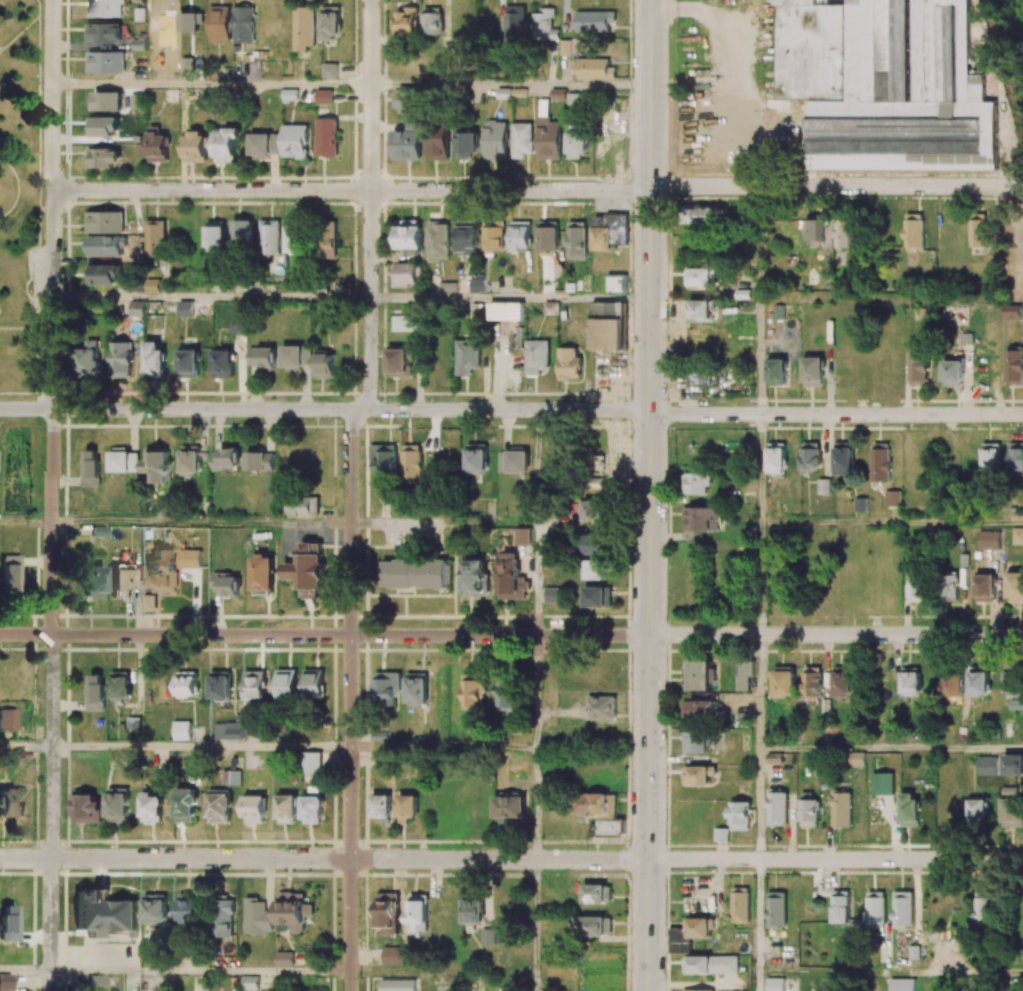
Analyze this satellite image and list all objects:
road: (39, 7)
building: (105, 8)
building: (432, 20)
building: (594, 21)
building: (407, 22)
building: (330, 23)
building: (515, 23)
building: (188, 24)
building: (220, 24)
building: (244, 24)
building: (544, 25)
building: (303, 27)
building: (103, 32)
road: (20, 33)
building: (138, 44)
building: (812, 50)
building: (105, 62)
building: (594, 69)
building: (330, 70)
road: (212, 84)
road: (511, 85)
building: (921, 90)
building: (558, 93)
building: (324, 96)
building: (407, 100)
building: (575, 100)
building: (104, 126)
building: (326, 137)
building: (495, 139)
building: (522, 139)
building: (295, 141)
building: (577, 141)
building: (438, 143)
building: (406, 144)
building: (467, 144)
building: (226, 145)
building: (264, 145)
building: (194, 146)
building: (158, 147)
building: (104, 157)
building: (826, 160)
road: (39, 176)
street lamp: (43, 179)
road: (836, 187)
road: (19, 189)
road: (352, 191)
park: (19, 192)
building: (704, 213)
building: (105, 222)
building: (813, 229)
building: (979, 229)
building: (913, 232)
building: (844, 233)
building: (242, 235)
building: (410, 235)
building: (520, 235)
building: (155, 236)
building: (215, 236)
building: (493, 236)
building: (548, 236)
building: (270, 237)
building: (294, 237)
building: (466, 237)
building: (327, 239)
building: (438, 239)
building: (576, 240)
road: (761, 243)
building: (103, 246)
building: (102, 274)
building: (405, 274)
building: (701, 277)
building: (476, 283)
building: (615, 284)
street lamp: (31, 292)
road: (211, 297)
road: (510, 298)
road: (880, 300)
building: (136, 308)
building: (185, 308)
building: (608, 309)
building: (699, 310)
building: (506, 311)
building: (1012, 312)
building: (403, 323)
building: (237, 325)
road: (14, 330)
building: (608, 333)
building: (700, 340)
building: (467, 356)
building: (536, 356)
building: (296, 357)
road: (761, 357)
building: (266, 358)
building: (89, 359)
building: (122, 360)
building: (154, 360)
road: (34, 361)
building: (398, 362)
building: (188, 363)
building: (222, 363)
building: (568, 364)
building: (325, 365)
building: (1014, 365)
building: (918, 368)
building: (777, 371)
building: (813, 371)
building: (953, 372)
building: (699, 378)
road: (18, 393)
road: (511, 410)
street lamp: (61, 428)
building: (810, 456)
building: (991, 456)
building: (1016, 456)
building: (476, 457)
building: (225, 458)
building: (776, 458)
building: (844, 458)
building: (190, 459)
building: (260, 459)
building: (385, 460)
building: (517, 460)
building: (124, 461)
building: (412, 461)
building: (503, 462)
building: (880, 462)
building: (157, 463)
building: (91, 468)
road: (536, 468)
road: (761, 468)
building: (697, 483)
building: (824, 486)
road: (351, 493)
road: (53, 495)
road: (649, 495)
building: (892, 498)
building: (860, 504)
building: (303, 508)
building: (597, 509)
building: (777, 510)
building: (700, 518)
road: (892, 522)
road: (26, 523)
road: (202, 524)
road: (443, 525)
building: (523, 536)
building: (1017, 536)
building: (989, 539)
building: (596, 544)
building: (189, 558)
building: (307, 567)
building: (596, 569)
building: (162, 570)
building: (415, 573)
building: (9, 574)
building: (263, 574)
building: (476, 576)
building: (511, 577)
road: (760, 578)
building: (92, 581)
road: (535, 581)
building: (225, 583)
building: (120, 584)
building: (1014, 585)
building: (950, 586)
building: (985, 586)
building: (917, 587)
building: (554, 594)
building: (598, 596)
building: (150, 602)
road: (835, 635)
road: (324, 636)
building: (699, 675)
building: (783, 680)
building: (911, 681)
building: (812, 682)
building: (842, 682)
building: (314, 683)
building: (979, 683)
building: (187, 684)
building: (287, 684)
building: (953, 684)
building: (120, 685)
building: (220, 685)
building: (255, 685)
building: (1014, 685)
building: (387, 688)
building: (418, 688)
building: (474, 691)
building: (95, 692)
building: (507, 692)
road: (535, 692)
road: (760, 692)
building: (1016, 704)
building: (601, 707)
building: (698, 709)
building: (7, 720)
building: (133, 723)
building: (181, 730)
building: (228, 730)
building: (695, 742)
road: (26, 747)
road: (202, 747)
road: (443, 747)
road: (891, 749)
building: (857, 759)
building: (313, 762)
building: (1000, 765)
building: (698, 774)
building: (231, 777)
building: (9, 803)
road: (535, 803)
building: (118, 804)
road: (760, 804)
building: (185, 805)
building: (313, 805)
building: (596, 805)
building: (219, 806)
building: (87, 807)
building: (151, 807)
building: (381, 807)
building: (407, 807)
building: (777, 807)
building: (255, 808)
building: (288, 808)
building: (841, 808)
building: (509, 809)
building: (909, 809)
building: (808, 810)
building: (978, 812)
building: (1012, 812)
building: (739, 816)
building: (609, 827)
road: (324, 859)
road: (836, 860)
building: (596, 893)
building: (740, 904)
building: (190, 906)
building: (840, 906)
building: (156, 908)
building: (776, 908)
building: (875, 908)
building: (902, 908)
building: (473, 909)
building: (293, 911)
building: (982, 911)
building: (388, 912)
building: (103, 913)
building: (417, 914)
road: (759, 916)
building: (226, 917)
building: (258, 917)
building: (8, 924)
road: (534, 925)
building: (591, 925)
building: (488, 933)
building: (689, 934)
building: (393, 956)
building: (284, 958)
building: (713, 964)
road: (26, 970)
road: (201, 972)
road: (891, 973)
building: (5, 982)
building: (250, 982)
road: (759, 982)
building: (96, 983)
building: (775, 984)
building: (903, 984)
building: (397, 985)
building: (133, 990)
building: (697, 990)

